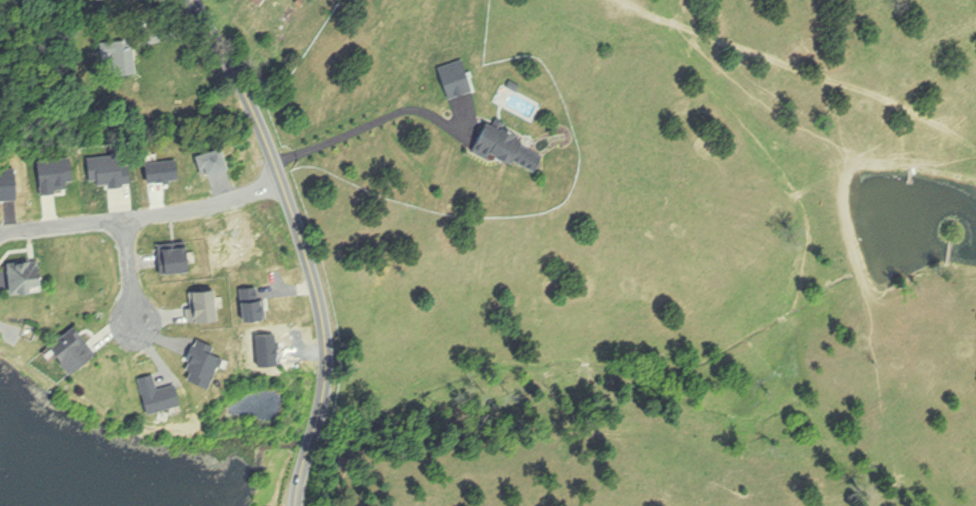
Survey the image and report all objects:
building: (100, 0)
building: (260, 1)
building: (127, 60)
building: (459, 84)
road: (369, 125)
building: (504, 142)
building: (215, 161)
road: (143, 216)
road: (304, 244)
road: (132, 274)
building: (26, 276)
building: (75, 348)

